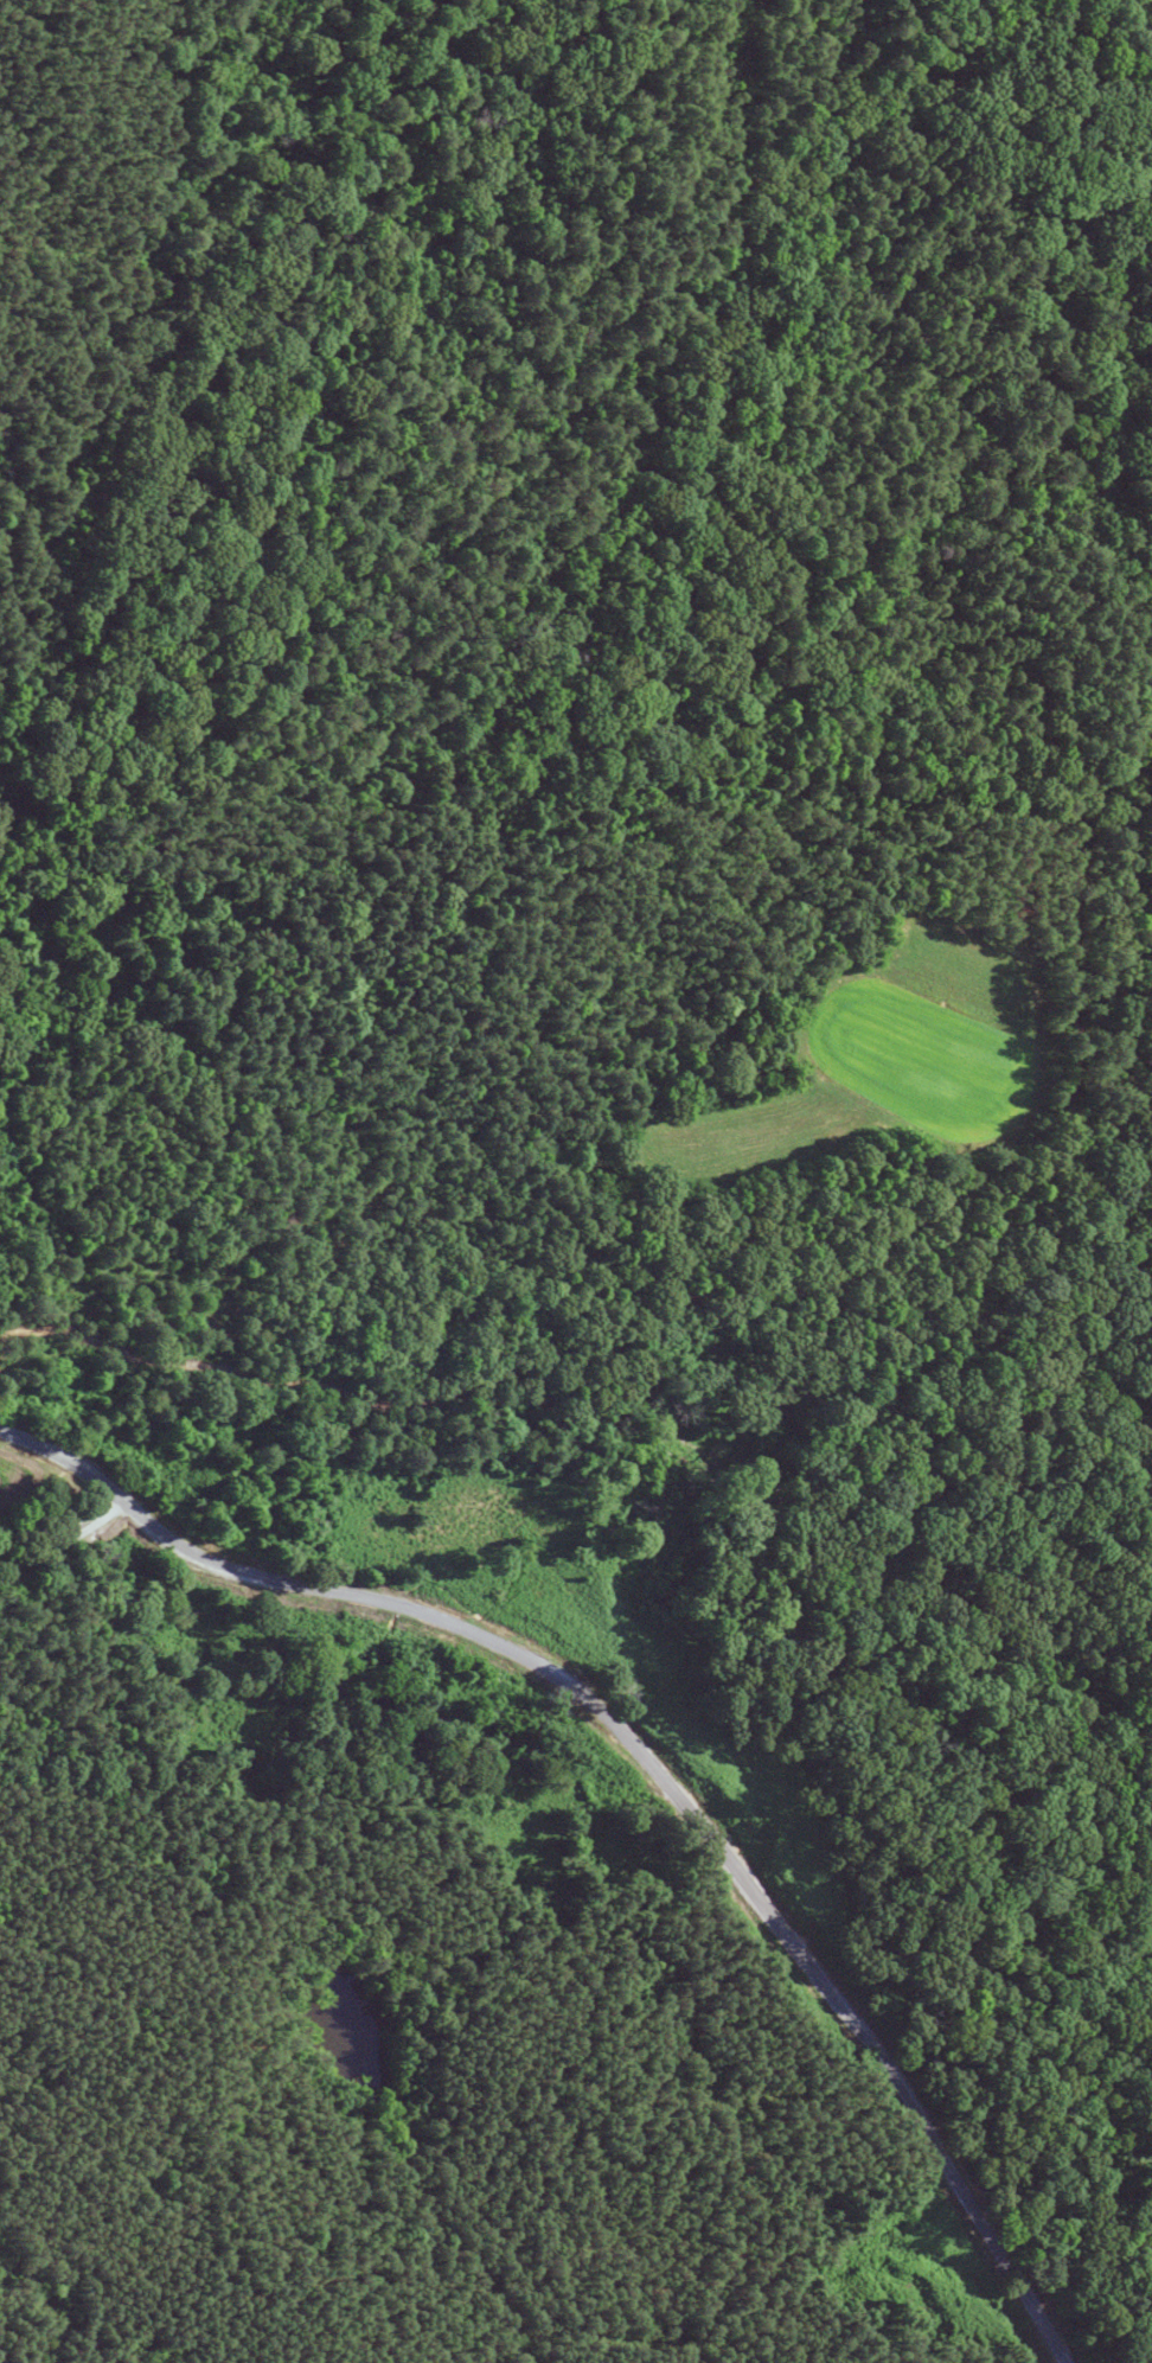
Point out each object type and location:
road: (634, 1203)
road: (66, 1540)
road: (670, 1763)

